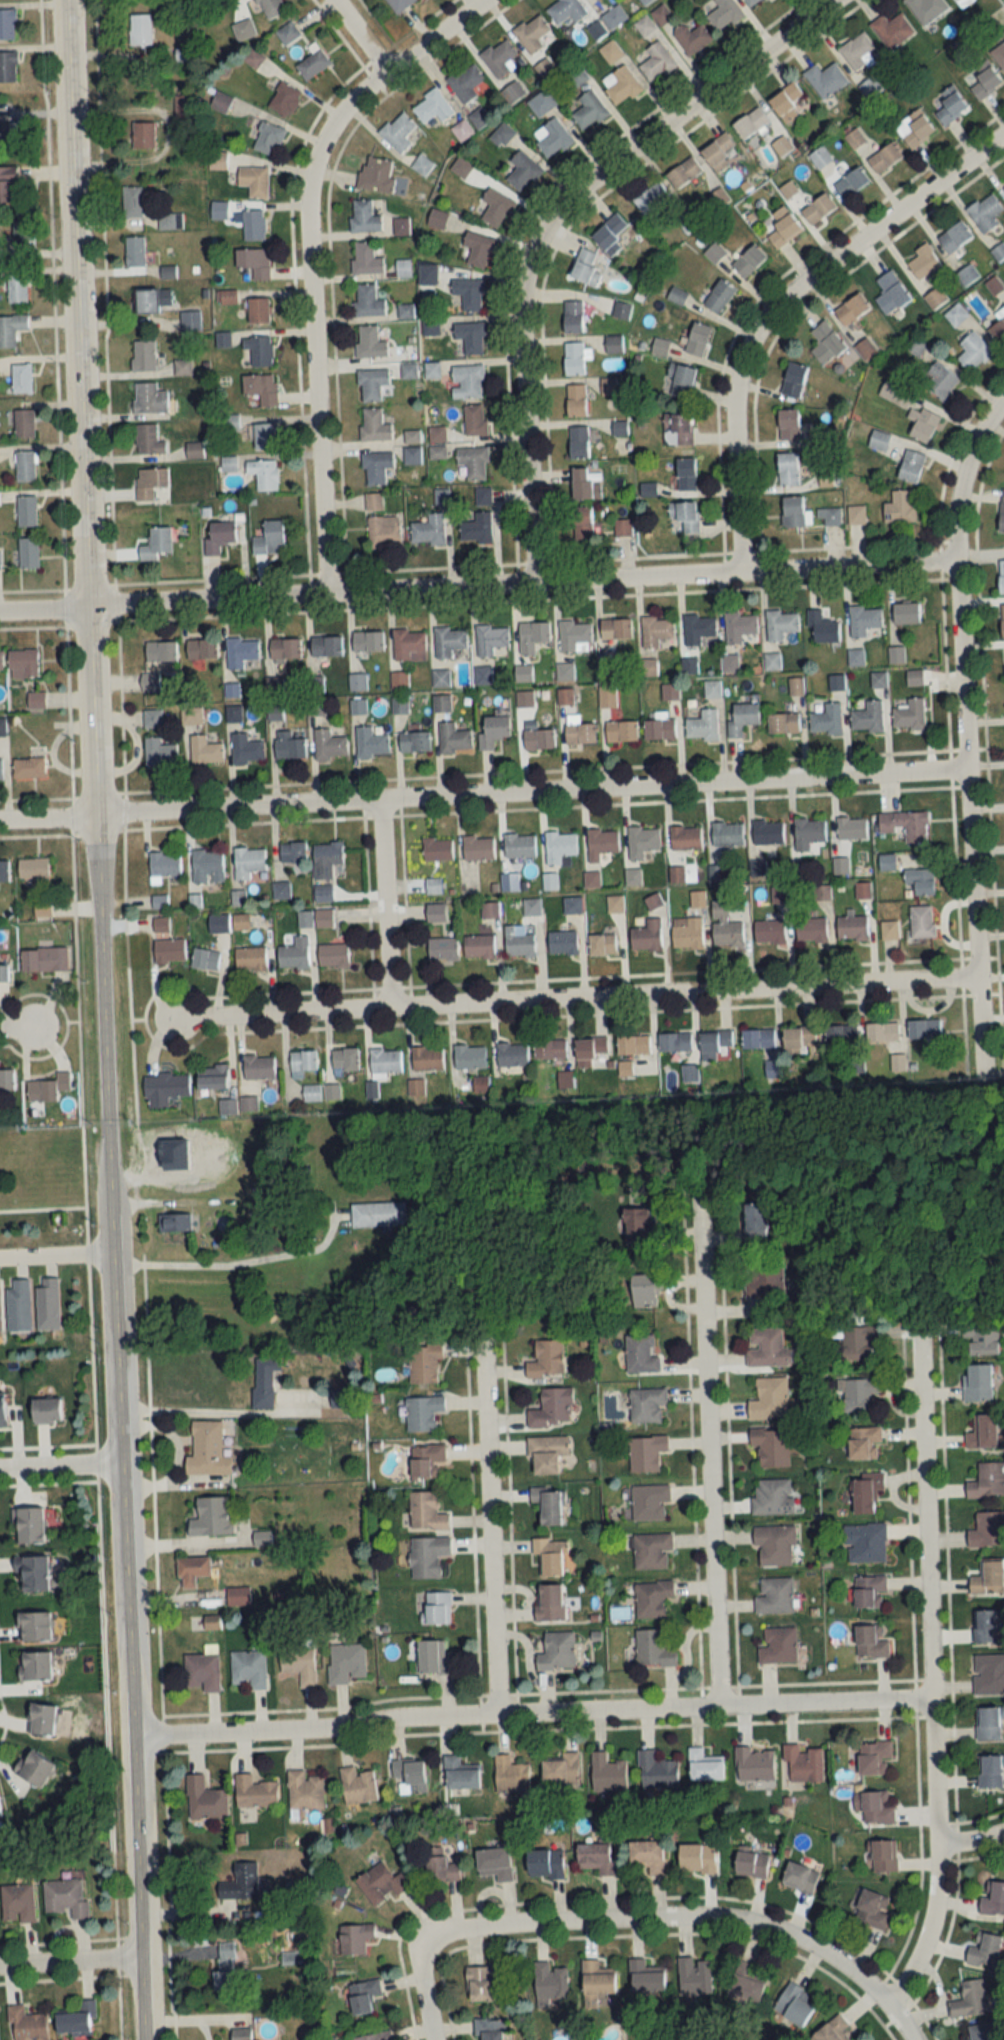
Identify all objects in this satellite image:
building: (644, 1)
building: (752, 3)
building: (961, 3)
building: (398, 4)
building: (270, 7)
building: (926, 9)
building: (566, 10)
building: (723, 14)
building: (7, 25)
building: (243, 29)
building: (140, 30)
building: (892, 30)
road: (357, 32)
building: (287, 33)
building: (531, 33)
building: (1003, 35)
building: (691, 38)
building: (857, 53)
building: (182, 54)
building: (999, 55)
building: (500, 58)
building: (656, 62)
building: (313, 64)
building: (8, 67)
building: (825, 79)
building: (465, 83)
building: (985, 84)
building: (620, 85)
building: (869, 87)
building: (284, 100)
building: (220, 102)
building: (786, 102)
building: (541, 103)
building: (951, 106)
building: (432, 108)
building: (589, 111)
building: (478, 118)
building: (750, 123)
building: (914, 129)
building: (461, 130)
building: (399, 133)
building: (501, 134)
building: (143, 135)
building: (14, 137)
building: (551, 138)
building: (854, 138)
building: (268, 139)
building: (718, 152)
building: (819, 157)
building: (884, 159)
building: (217, 160)
building: (422, 165)
building: (461, 167)
building: (522, 171)
building: (683, 173)
building: (375, 174)
building: (254, 181)
building: (850, 183)
building: (7, 185)
building: (1003, 189)
building: (650, 197)
building: (131, 202)
building: (495, 207)
building: (818, 209)
building: (219, 210)
building: (985, 213)
building: (364, 217)
building: (437, 219)
building: (169, 221)
building: (616, 222)
road: (547, 223)
building: (253, 225)
building: (782, 229)
building: (21, 234)
building: (954, 237)
building: (607, 241)
building: (478, 250)
building: (134, 251)
building: (366, 259)
road: (305, 260)
building: (748, 261)
building: (253, 262)
building: (922, 262)
building: (402, 268)
building: (585, 268)
building: (168, 272)
building: (427, 275)
building: (967, 275)
building: (17, 288)
building: (469, 294)
building: (891, 294)
building: (676, 296)
building: (719, 296)
building: (226, 297)
building: (935, 298)
building: (152, 301)
building: (367, 301)
road: (779, 303)
building: (621, 310)
building: (851, 310)
building: (257, 311)
building: (955, 315)
building: (572, 316)
building: (190, 321)
building: (11, 328)
building: (998, 331)
building: (471, 337)
building: (697, 339)
building: (369, 342)
building: (826, 343)
building: (614, 344)
building: (256, 349)
building: (973, 352)
building: (143, 356)
building: (573, 358)
building: (182, 368)
building: (21, 378)
building: (792, 379)
building: (680, 380)
building: (467, 381)
building: (940, 381)
building: (371, 384)
building: (608, 386)
building: (261, 388)
building: (149, 399)
building: (575, 400)
building: (474, 419)
building: (23, 423)
building: (922, 423)
building: (788, 424)
building: (374, 425)
building: (677, 428)
building: (263, 436)
building: (411, 436)
building: (148, 439)
building: (578, 442)
building: (194, 450)
building: (412, 455)
building: (472, 461)
building: (24, 465)
building: (910, 465)
building: (376, 467)
building: (787, 469)
building: (263, 473)
building: (685, 474)
building: (150, 481)
building: (585, 483)
building: (441, 496)
building: (482, 496)
building: (373, 501)
building: (899, 507)
building: (26, 510)
building: (1001, 510)
building: (792, 511)
building: (855, 514)
building: (829, 516)
building: (683, 517)
building: (580, 521)
building: (476, 528)
building: (428, 530)
building: (383, 531)
building: (218, 534)
building: (269, 538)
building: (156, 543)
building: (27, 552)
building: (1001, 577)
road: (475, 584)
building: (906, 612)
building: (863, 620)
building: (1002, 621)
building: (780, 624)
building: (739, 626)
building: (822, 628)
building: (615, 629)
building: (698, 629)
building: (655, 631)
building: (573, 635)
building: (532, 636)
building: (490, 639)
building: (367, 641)
building: (448, 641)
building: (408, 645)
building: (326, 646)
building: (201, 648)
building: (285, 648)
building: (160, 651)
building: (240, 652)
building: (855, 657)
building: (1, 661)
building: (772, 661)
building: (23, 663)
building: (561, 668)
building: (482, 676)
building: (440, 678)
building: (878, 679)
building: (398, 680)
building: (150, 681)
building: (357, 682)
building: (836, 682)
building: (715, 689)
building: (564, 697)
building: (607, 697)
building: (35, 699)
building: (524, 699)
building: (441, 703)
building: (399, 705)
building: (316, 707)
building: (909, 714)
building: (154, 716)
building: (867, 717)
building: (742, 718)
building: (826, 719)
building: (783, 723)
building: (702, 725)
building: (659, 729)
building: (493, 731)
building: (621, 731)
building: (579, 732)
road: (962, 734)
building: (453, 738)
building: (538, 739)
building: (414, 741)
building: (371, 742)
building: (329, 745)
building: (289, 746)
building: (247, 749)
building: (205, 751)
building: (159, 753)
building: (28, 767)
building: (0, 768)
road: (482, 793)
building: (905, 824)
building: (851, 828)
building: (768, 832)
building: (808, 833)
building: (727, 834)
building: (685, 837)
building: (642, 842)
building: (601, 843)
building: (519, 845)
building: (559, 846)
building: (478, 848)
building: (436, 849)
building: (291, 856)
building: (326, 858)
building: (248, 861)
building: (886, 862)
building: (163, 864)
building: (207, 866)
building: (4, 870)
building: (33, 871)
building: (549, 881)
building: (920, 881)
building: (509, 883)
building: (433, 886)
building: (862, 891)
building: (653, 901)
road: (380, 903)
building: (571, 904)
building: (614, 904)
building: (531, 907)
building: (435, 912)
building: (323, 917)
building: (304, 919)
building: (240, 921)
building: (921, 922)
building: (218, 923)
building: (160, 924)
building: (724, 926)
building: (851, 928)
building: (810, 930)
building: (888, 930)
building: (769, 931)
building: (686, 932)
building: (646, 936)
building: (518, 942)
building: (562, 942)
building: (601, 944)
building: (479, 946)
building: (442, 948)
building: (168, 951)
building: (294, 953)
building: (331, 955)
building: (43, 959)
building: (205, 959)
building: (250, 959)
building: (3, 973)
road: (574, 997)
road: (81, 1019)
road: (108, 1020)
road: (18, 1025)
building: (923, 1028)
building: (882, 1031)
building: (841, 1034)
building: (800, 1036)
building: (758, 1038)
building: (675, 1041)
building: (714, 1042)
building: (633, 1044)
building: (550, 1048)
building: (589, 1050)
building: (512, 1054)
building: (469, 1057)
building: (427, 1059)
building: (303, 1060)
building: (345, 1061)
building: (385, 1061)
building: (258, 1066)
building: (212, 1076)
building: (6, 1080)
building: (480, 1085)
building: (164, 1087)
building: (47, 1088)
building: (311, 1093)
road: (674, 1094)
building: (227, 1107)
building: (255, 1185)
road: (44, 1205)
building: (378, 1214)
building: (174, 1222)
building: (754, 1223)
building: (638, 1227)
road: (58, 1251)
road: (234, 1265)
building: (763, 1278)
building: (644, 1290)
building: (47, 1304)
building: (18, 1305)
building: (0, 1309)
building: (980, 1337)
building: (858, 1342)
building: (767, 1347)
building: (640, 1354)
building: (546, 1360)
building: (424, 1364)
building: (263, 1382)
building: (977, 1383)
building: (859, 1394)
building: (769, 1399)
building: (646, 1405)
building: (2, 1409)
road: (213, 1409)
building: (552, 1409)
building: (45, 1411)
building: (422, 1413)
building: (983, 1432)
building: (863, 1443)
road: (704, 1446)
building: (770, 1446)
building: (206, 1450)
building: (645, 1453)
building: (545, 1454)
building: (425, 1461)
road: (62, 1463)
building: (987, 1480)
building: (865, 1493)
building: (772, 1496)
building: (649, 1501)
building: (548, 1505)
building: (426, 1513)
building: (211, 1517)
building: (27, 1526)
road: (485, 1526)
building: (987, 1530)
road: (182, 1542)
building: (865, 1542)
building: (774, 1546)
building: (651, 1550)
building: (427, 1556)
building: (549, 1556)
building: (192, 1569)
building: (32, 1574)
building: (988, 1578)
building: (868, 1592)
building: (237, 1596)
building: (774, 1596)
building: (651, 1599)
building: (548, 1603)
building: (435, 1608)
building: (211, 1622)
building: (34, 1627)
building: (988, 1627)
building: (871, 1642)
building: (778, 1646)
building: (653, 1650)
building: (556, 1652)
building: (432, 1658)
building: (345, 1663)
building: (298, 1664)
road: (924, 1664)
building: (34, 1667)
building: (248, 1669)
building: (201, 1673)
building: (988, 1675)
road: (530, 1712)
building: (41, 1719)
building: (988, 1724)
building: (874, 1757)
building: (753, 1764)
building: (802, 1764)
building: (704, 1766)
building: (35, 1769)
building: (561, 1769)
building: (656, 1771)
building: (990, 1772)
building: (607, 1773)
building: (459, 1774)
building: (510, 1775)
building: (409, 1776)
building: (357, 1785)
building: (304, 1790)
building: (254, 1792)
building: (204, 1799)
building: (875, 1807)
building: (0, 1814)
road: (971, 1843)
building: (646, 1856)
building: (882, 1857)
building: (596, 1858)
building: (696, 1858)
building: (544, 1864)
building: (752, 1864)
building: (440, 1867)
building: (799, 1878)
building: (241, 1883)
building: (380, 1884)
building: (66, 1898)
building: (993, 1899)
building: (17, 1904)
building: (871, 1910)
road: (671, 1919)
building: (354, 1939)
building: (985, 1951)
road: (71, 1963)
building: (224, 1968)
building: (694, 1976)
building: (644, 1977)
building: (596, 1979)
building: (549, 1981)
building: (480, 1984)
building: (745, 1985)
road: (420, 1988)
building: (363, 1996)
building: (970, 2000)
building: (794, 2004)
road: (223, 2016)
road: (186, 2018)
building: (77, 2020)
road: (898, 2022)
building: (27, 2025)
building: (490, 2029)
building: (831, 2030)
building: (981, 2032)
building: (242, 2034)
building: (373, 2037)

